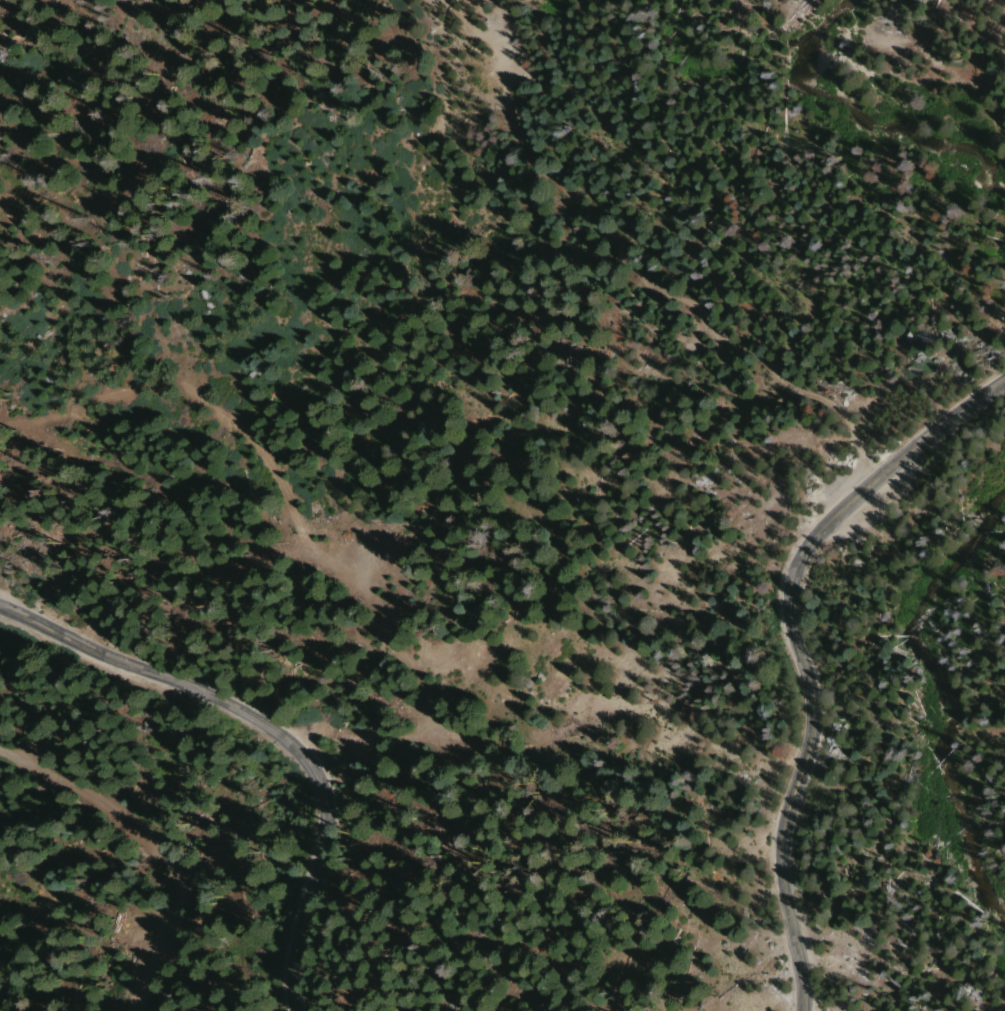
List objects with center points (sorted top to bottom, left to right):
road: (207, 336)
road: (789, 649)
road: (273, 736)
road: (152, 845)

